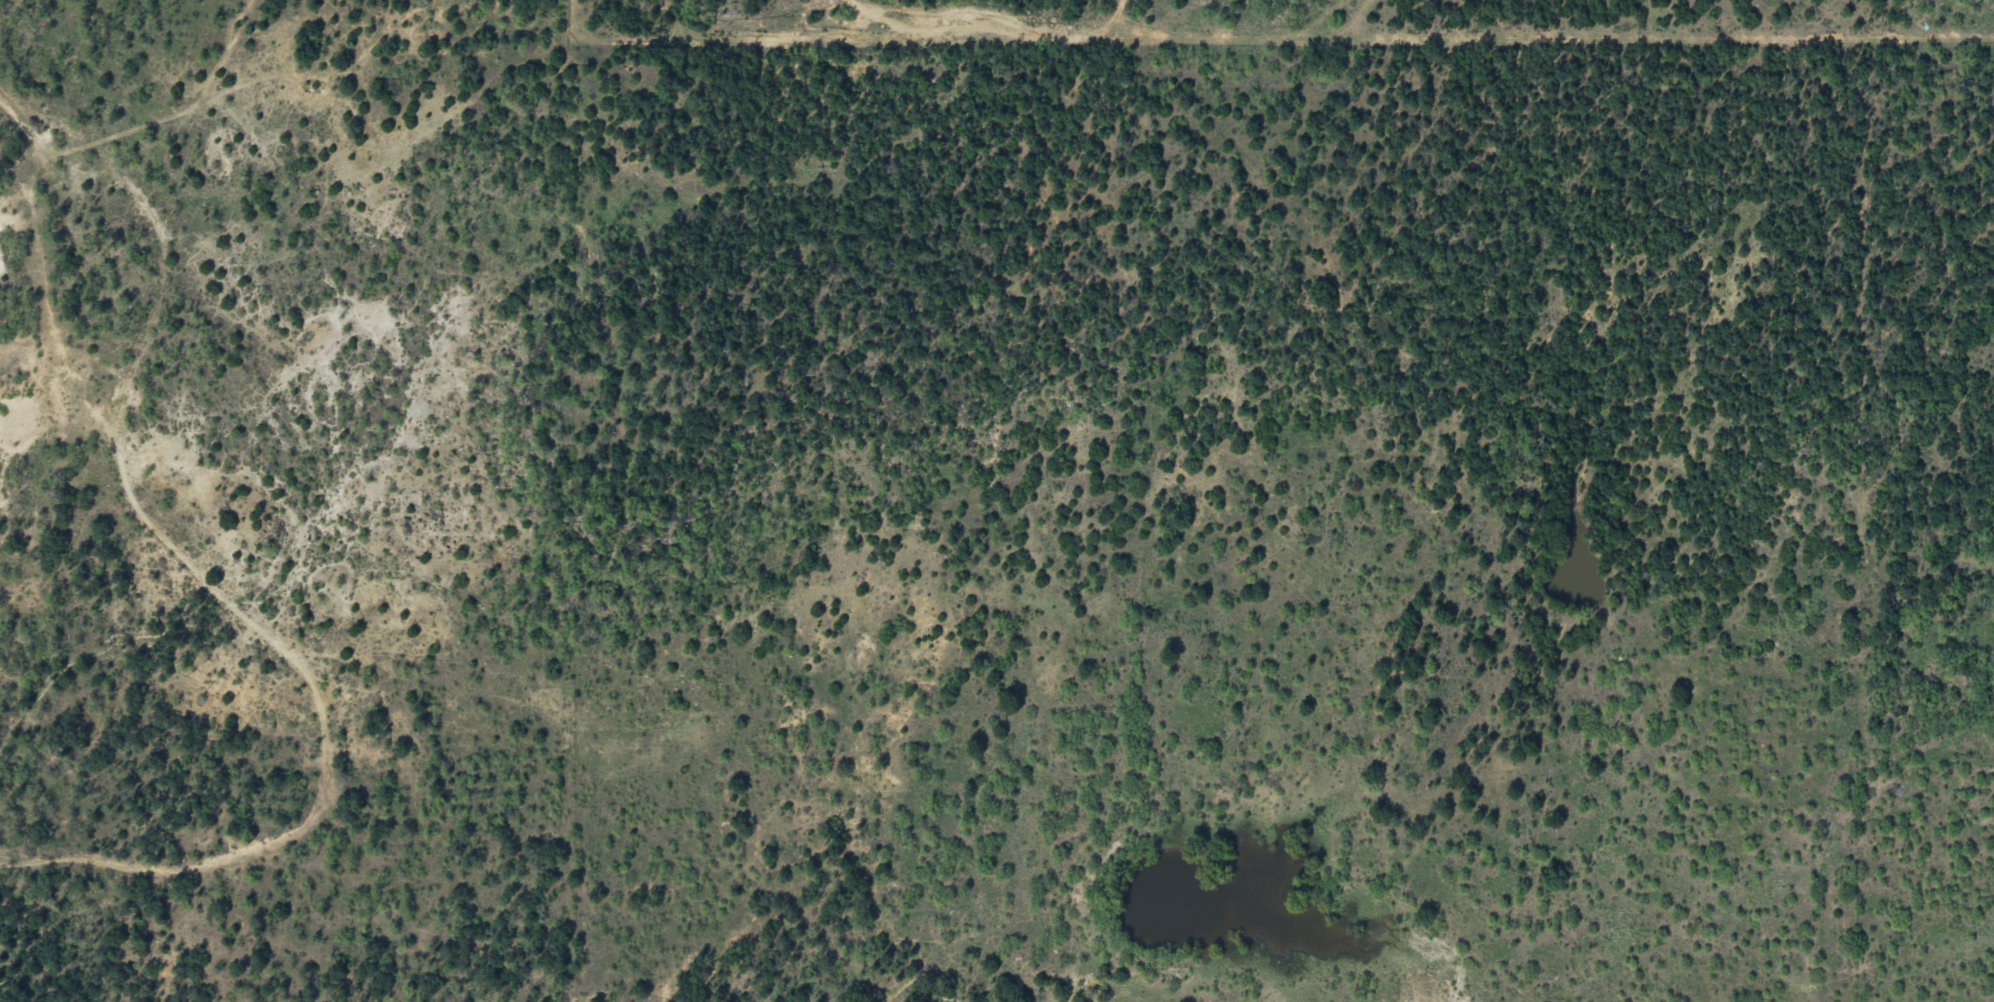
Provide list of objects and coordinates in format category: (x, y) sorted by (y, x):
road: (655, 721)

